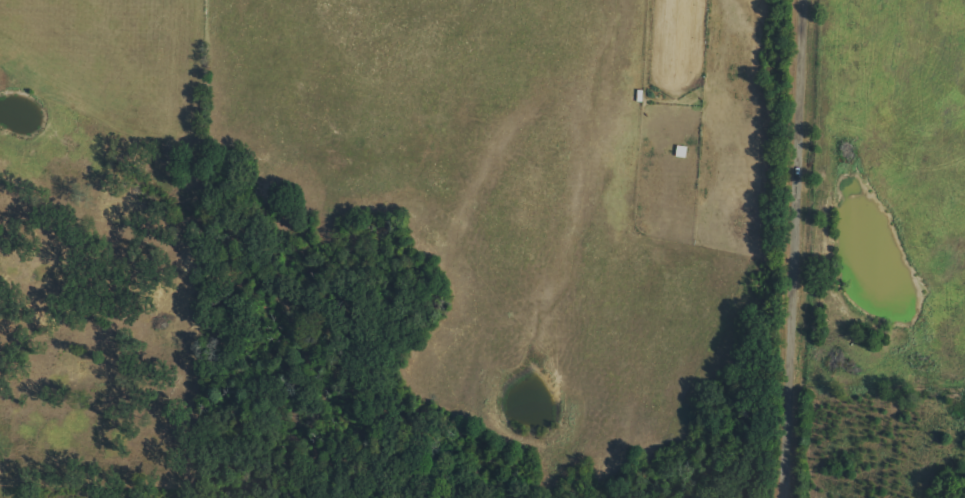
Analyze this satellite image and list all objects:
road: (800, 249)

